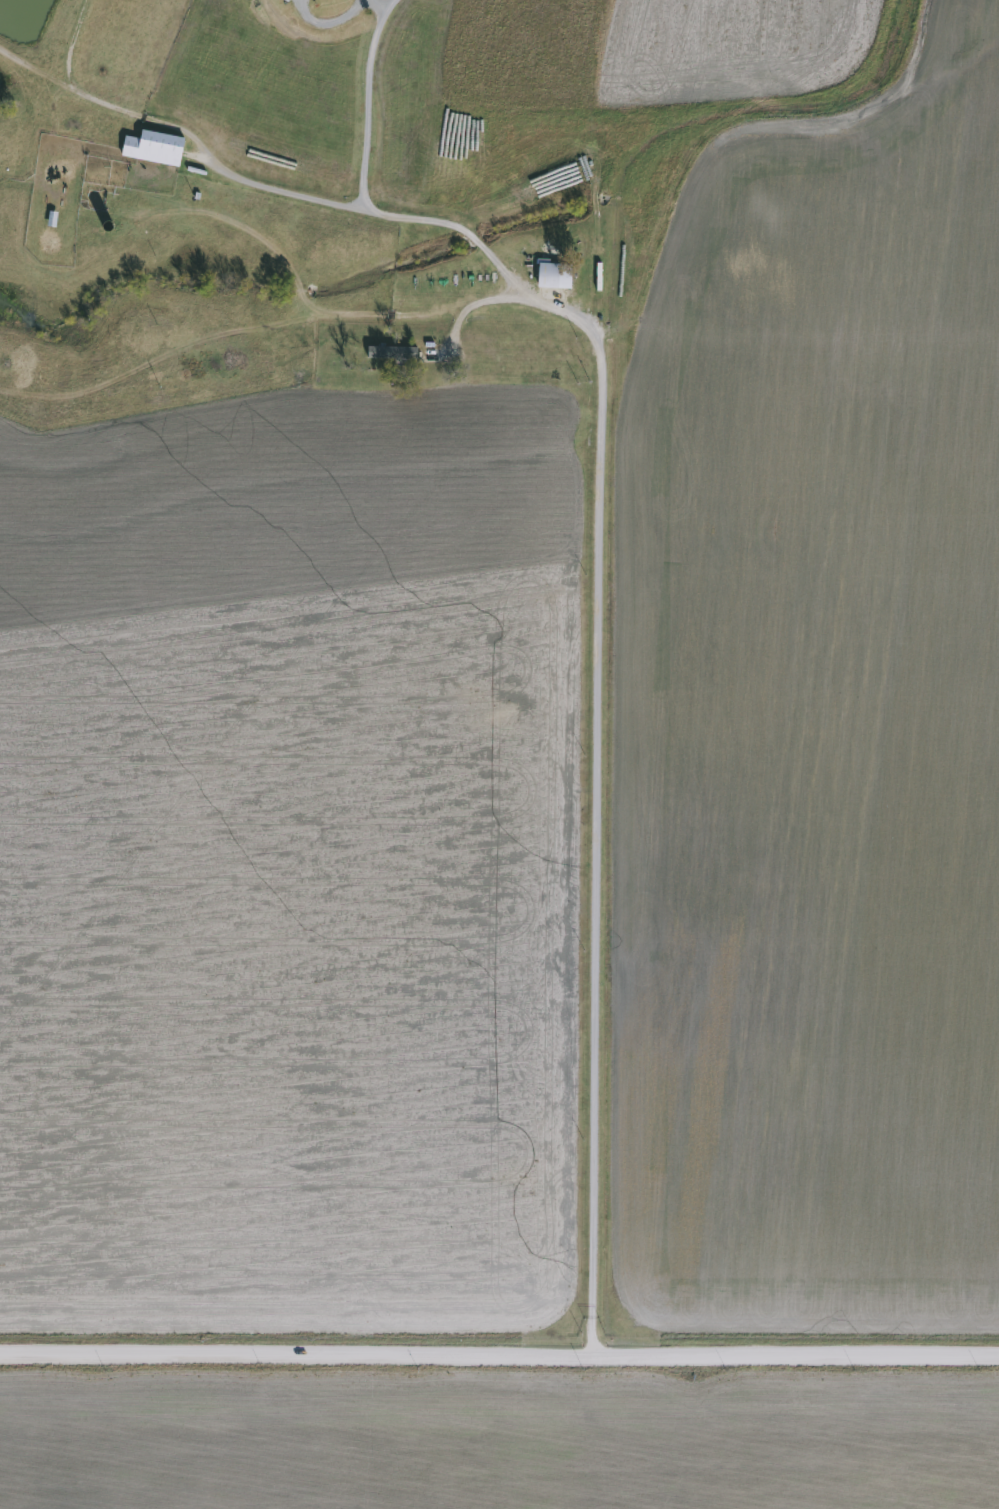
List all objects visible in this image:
building: (153, 147)
road: (280, 189)
road: (363, 194)
building: (554, 276)
building: (395, 350)
road: (595, 704)
road: (499, 1363)

